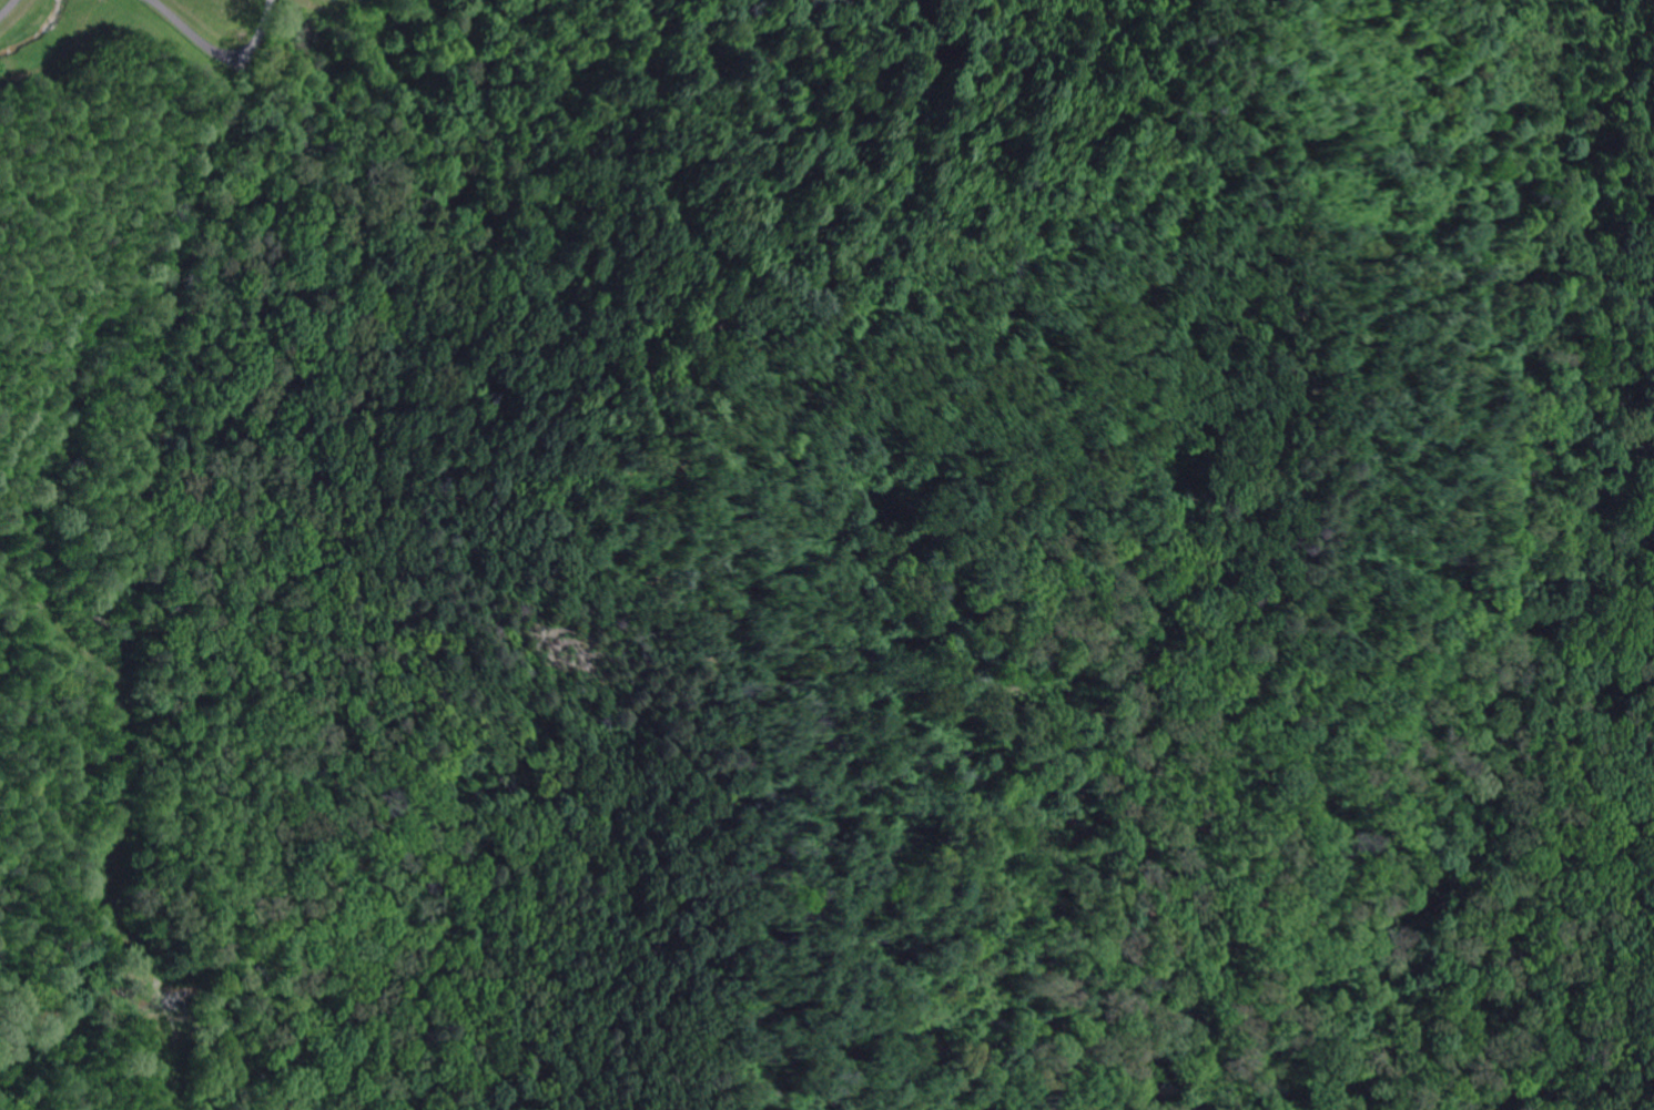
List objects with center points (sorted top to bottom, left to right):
road: (8, 8)
road: (262, 30)
road: (200, 35)

